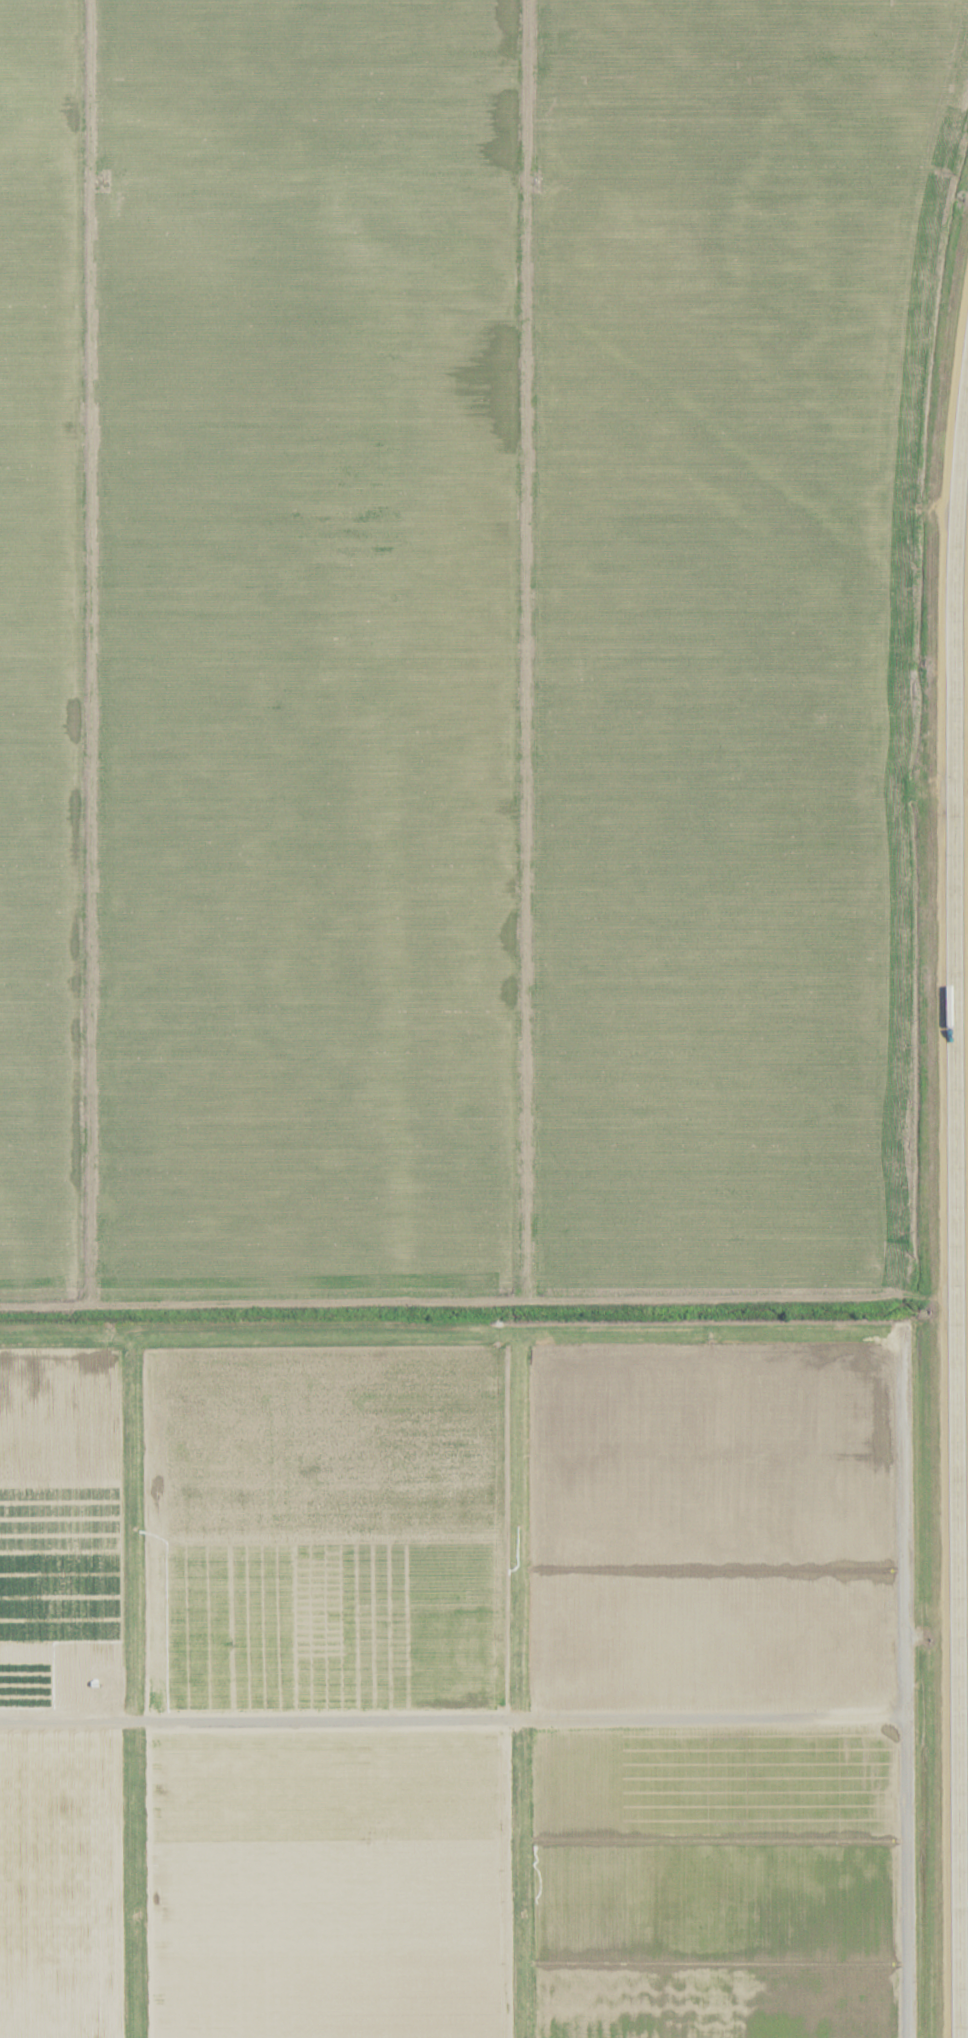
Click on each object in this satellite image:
road: (955, 1208)

